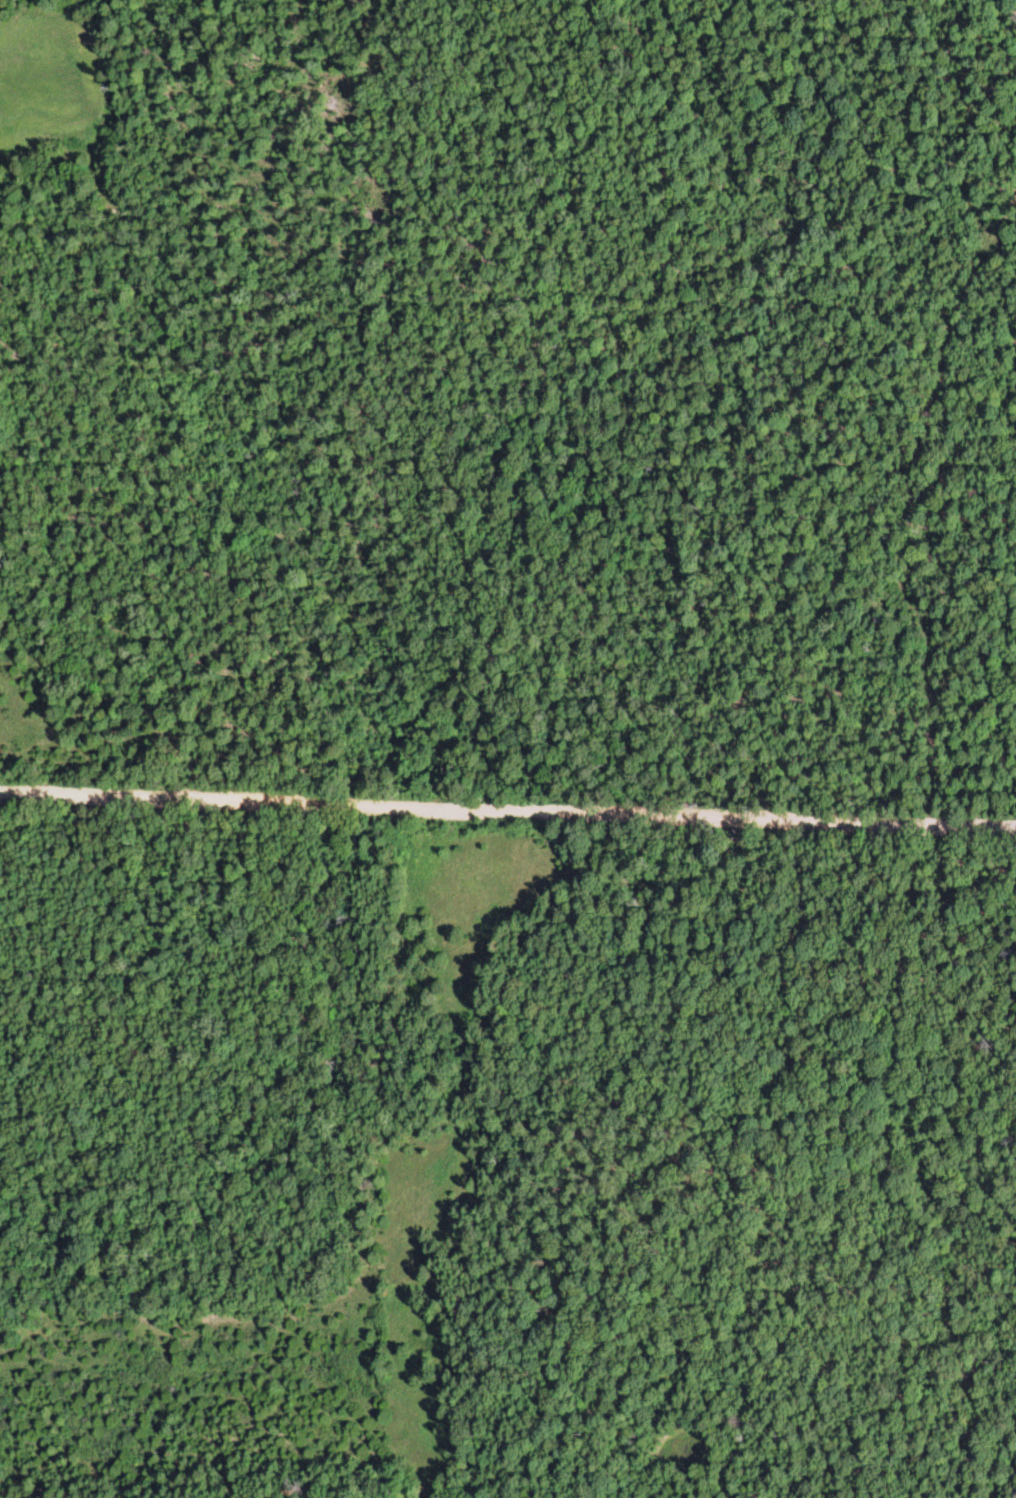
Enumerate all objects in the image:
road: (392, 402)
road: (508, 806)
road: (1009, 1374)

